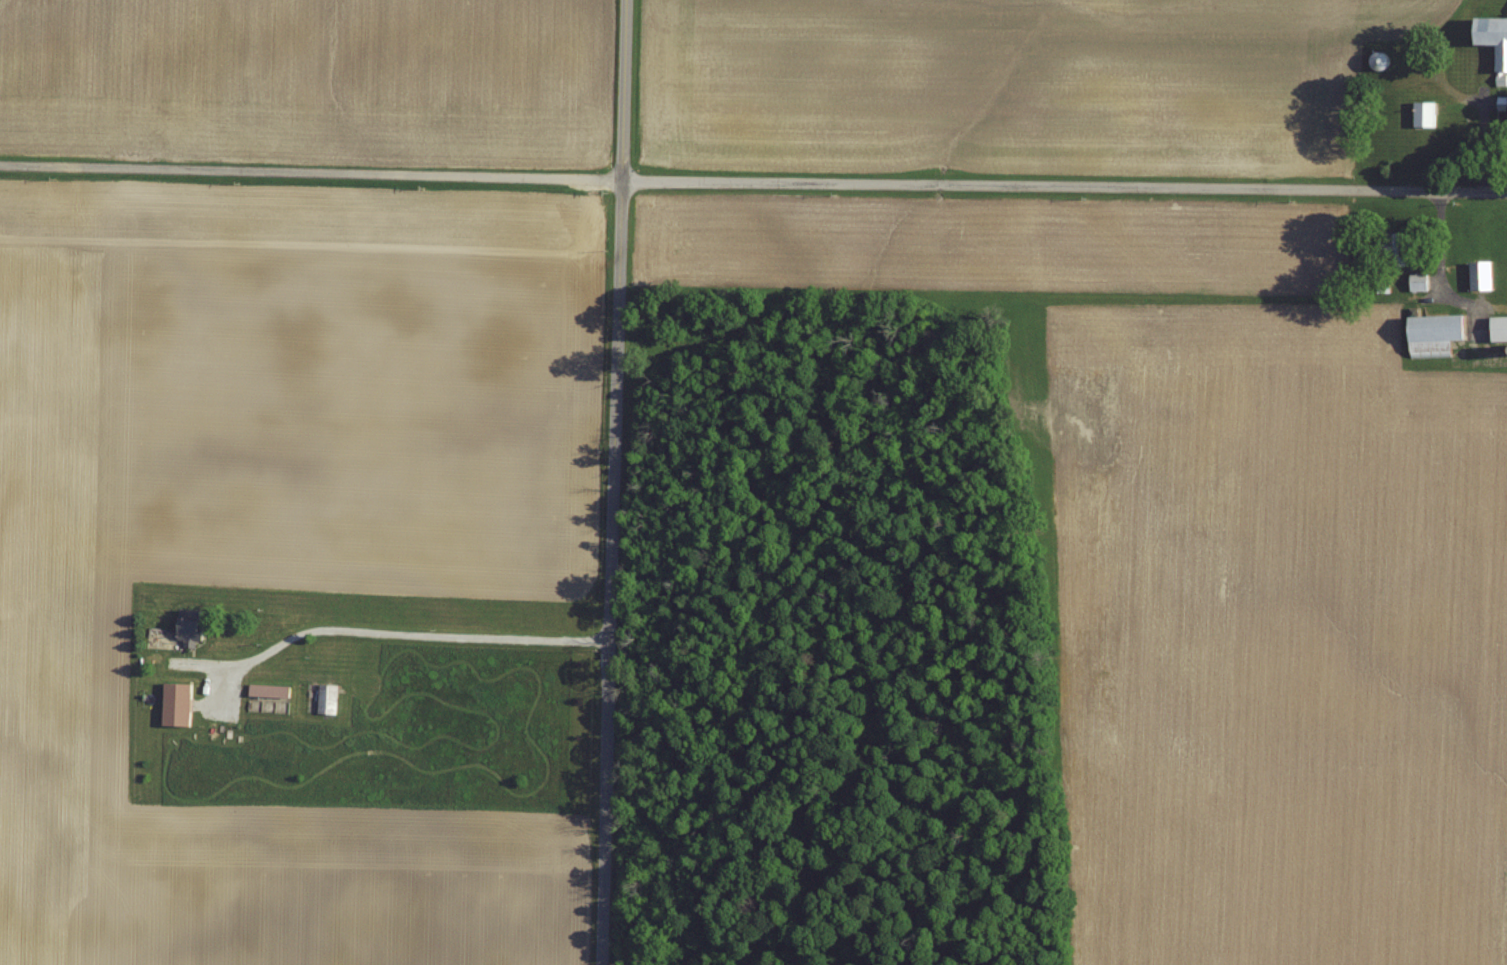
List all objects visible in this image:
road: (753, 179)
road: (610, 482)

